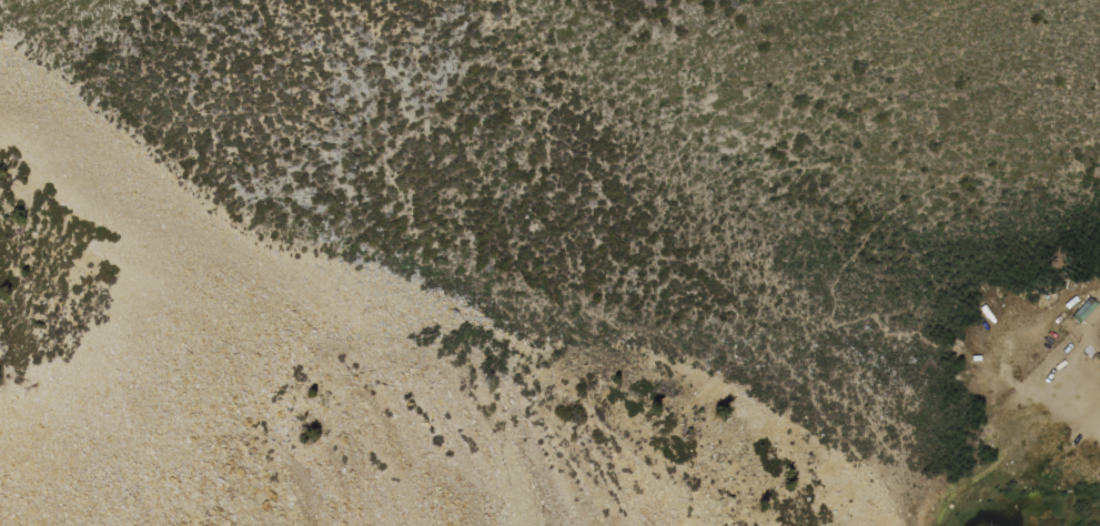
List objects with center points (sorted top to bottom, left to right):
road: (798, 168)
road: (1047, 402)

